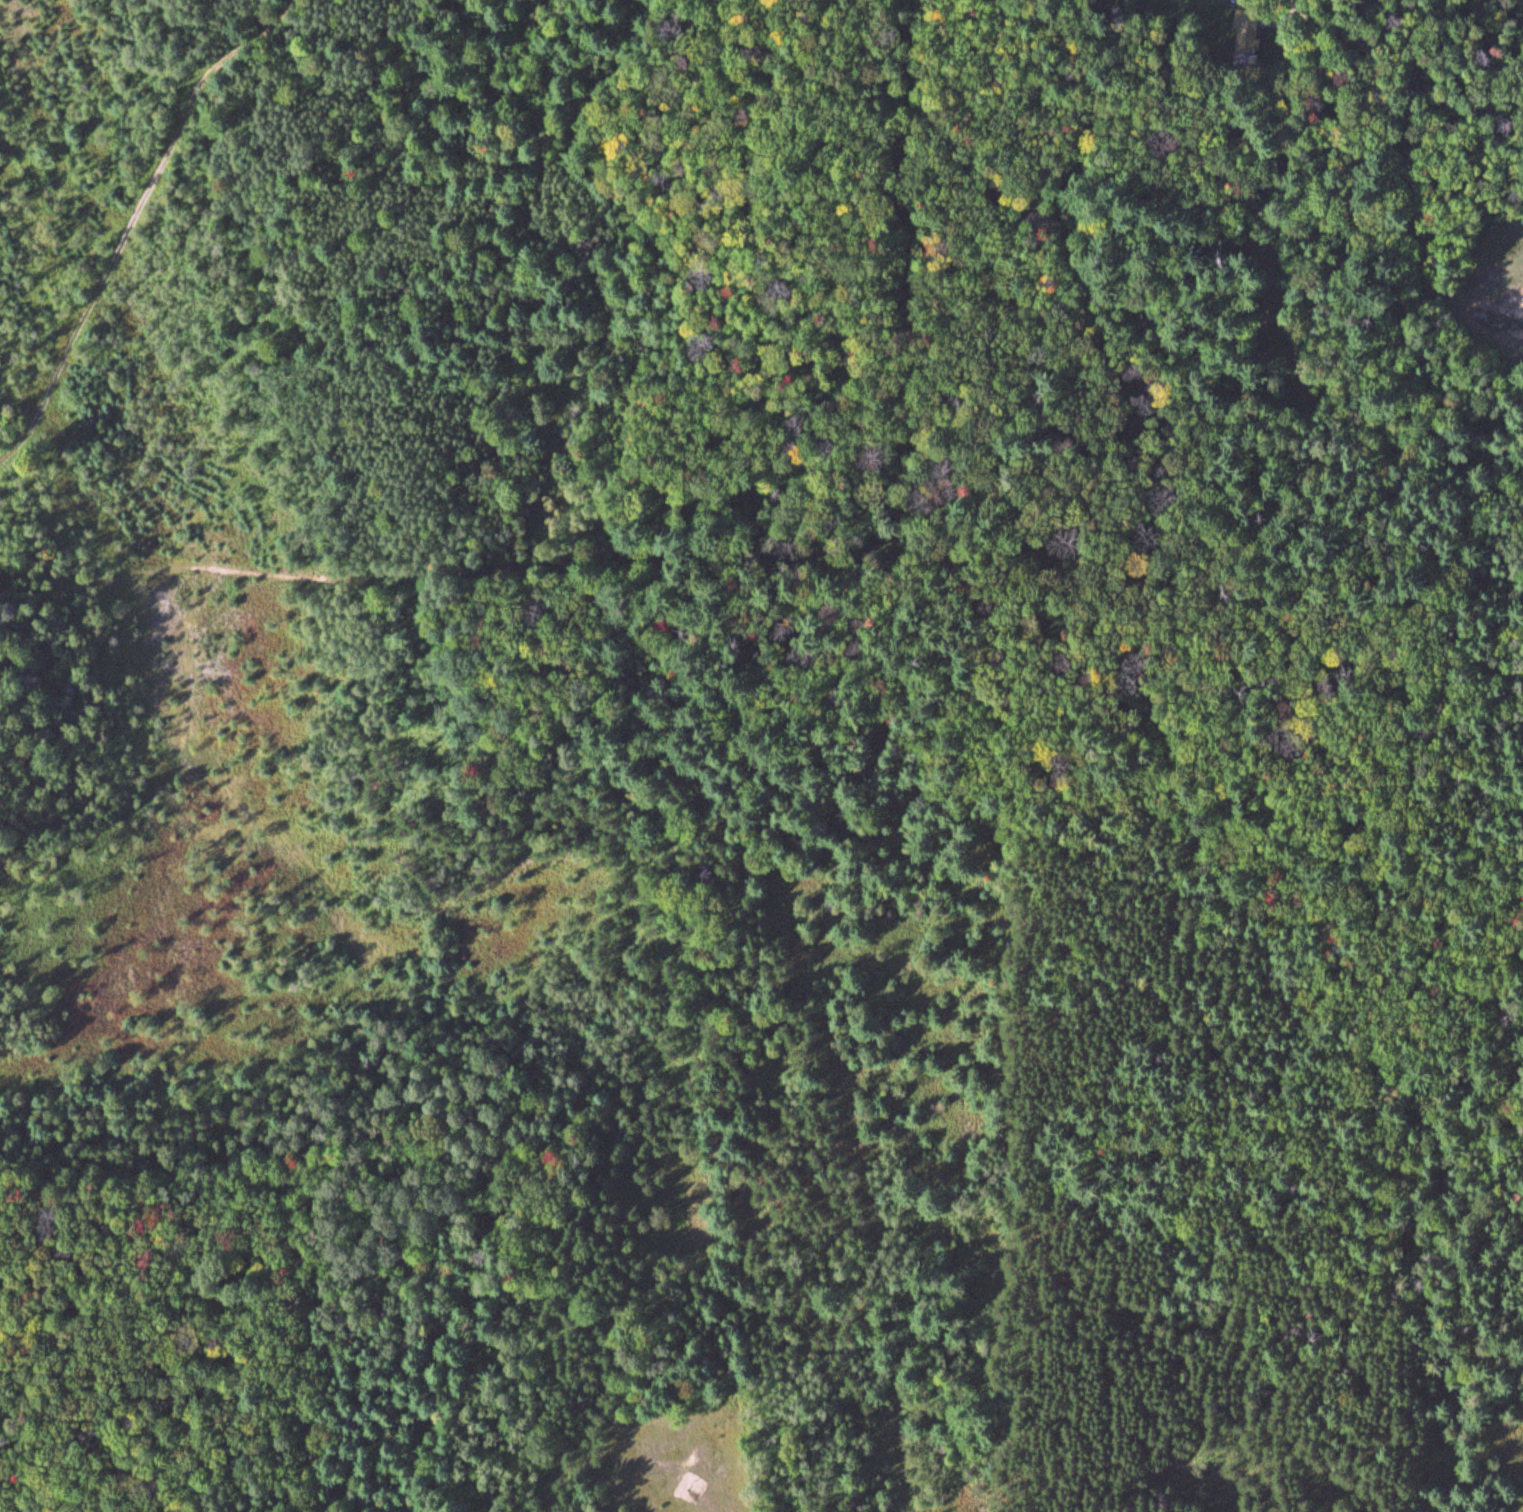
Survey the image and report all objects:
building: (1241, 40)
road: (96, 276)

